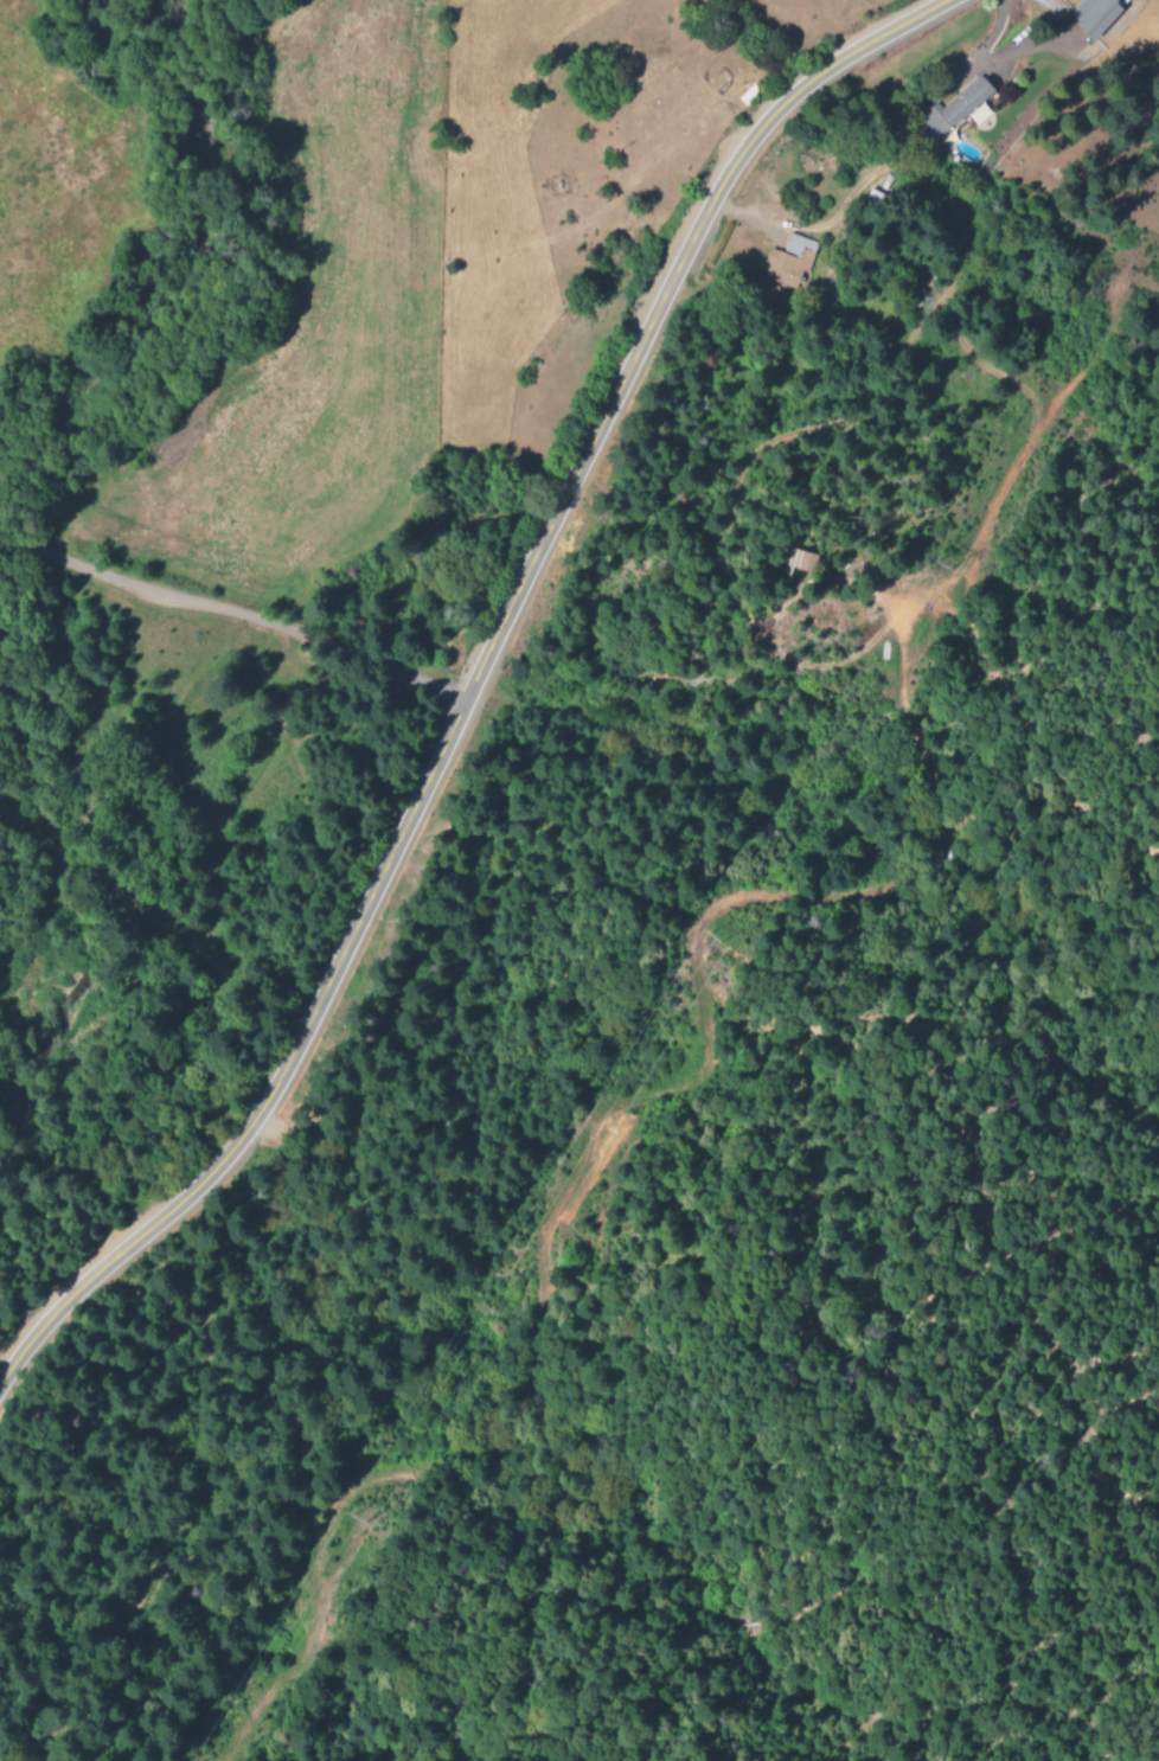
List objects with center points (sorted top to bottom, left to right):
building: (1090, 15)
building: (954, 110)
building: (787, 262)
road: (12, 543)
power tower: (939, 565)
road: (245, 617)
road: (470, 681)
power tower: (711, 941)
power tower: (354, 1519)

